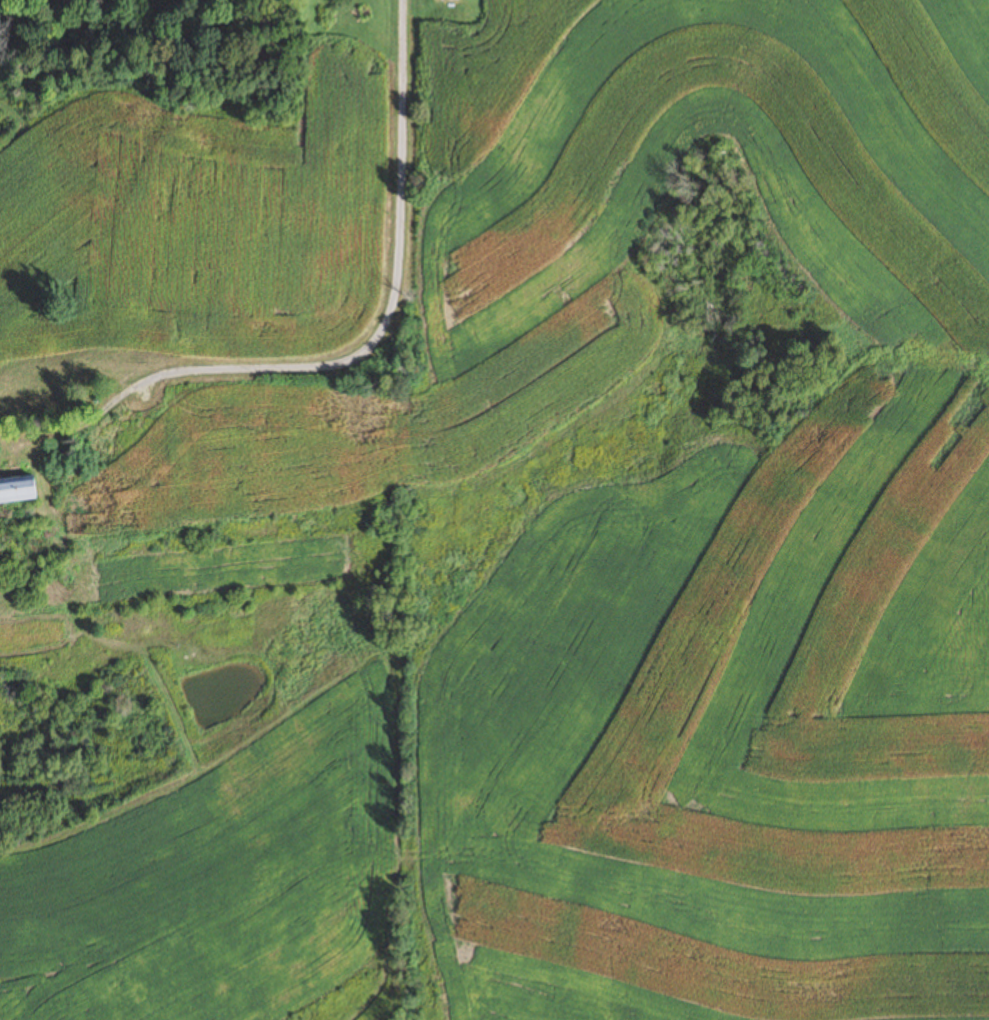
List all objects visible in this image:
building: (449, 0)
road: (366, 356)
building: (41, 395)
building: (17, 490)

